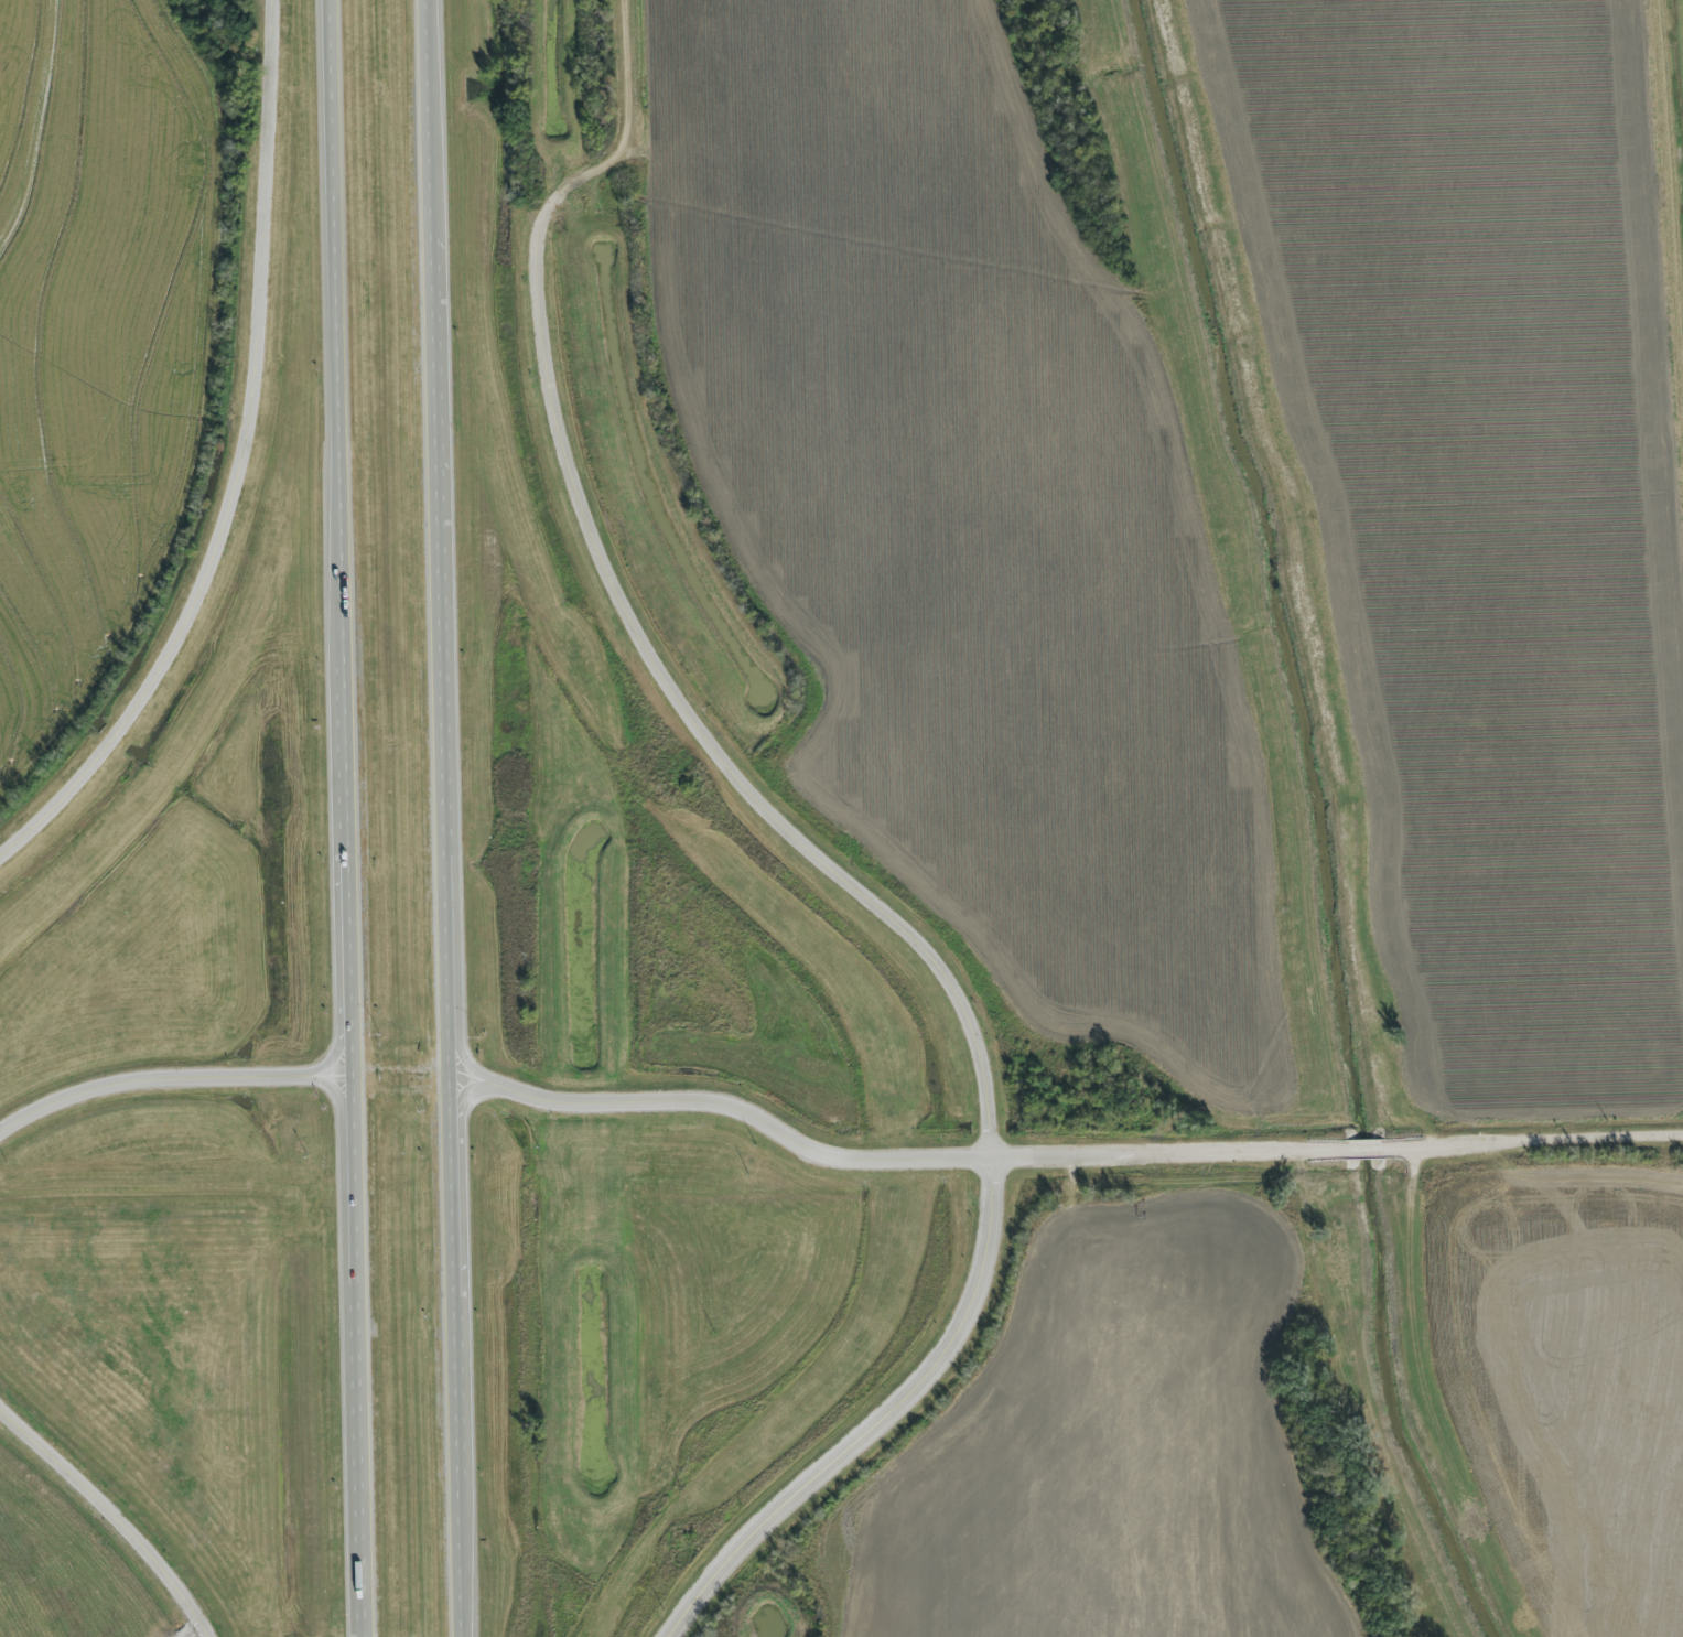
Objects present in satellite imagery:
road: (632, 117)
road: (245, 470)
road: (354, 818)
road: (450, 818)
river: (1316, 821)
road: (907, 927)
road: (499, 1086)
road: (1533, 1141)
road: (1362, 1145)
road: (1168, 1152)
road: (112, 1516)

